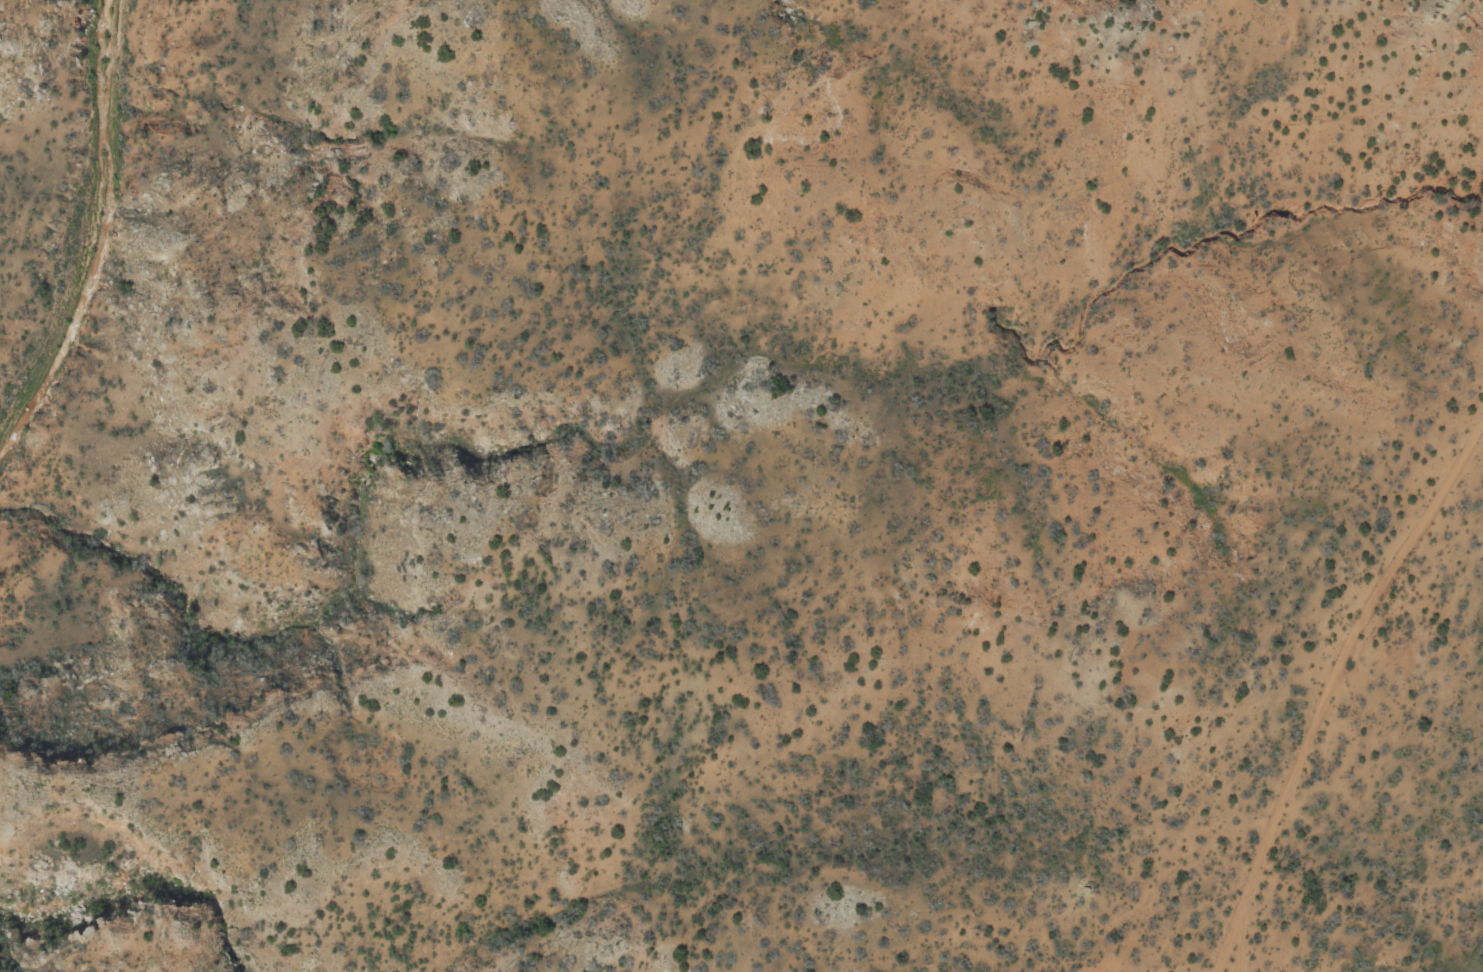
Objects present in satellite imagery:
road: (1352, 765)

